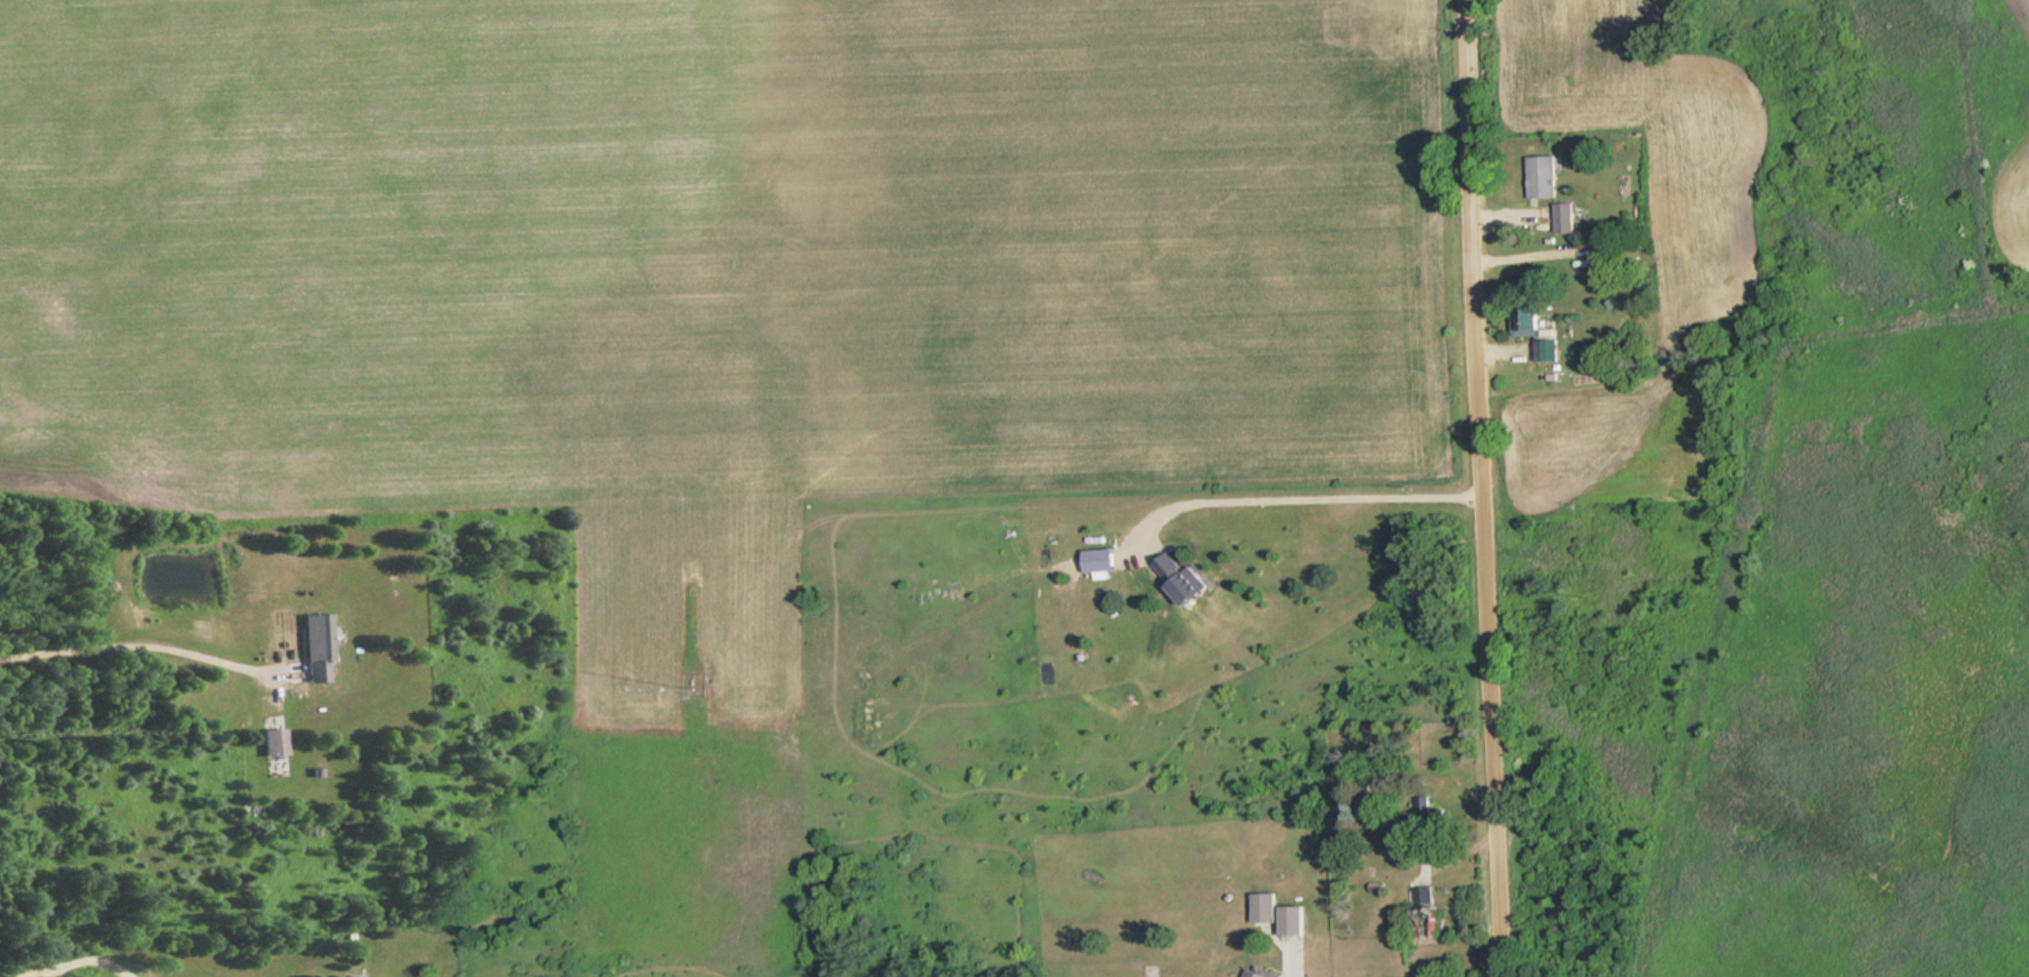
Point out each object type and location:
building: (1543, 176)
building: (1565, 217)
building: (1612, 246)
building: (1529, 321)
building: (1548, 350)
road: (1483, 488)
building: (320, 647)
building: (275, 740)
building: (1267, 906)
building: (1427, 910)
building: (1296, 919)
building: (1261, 973)

